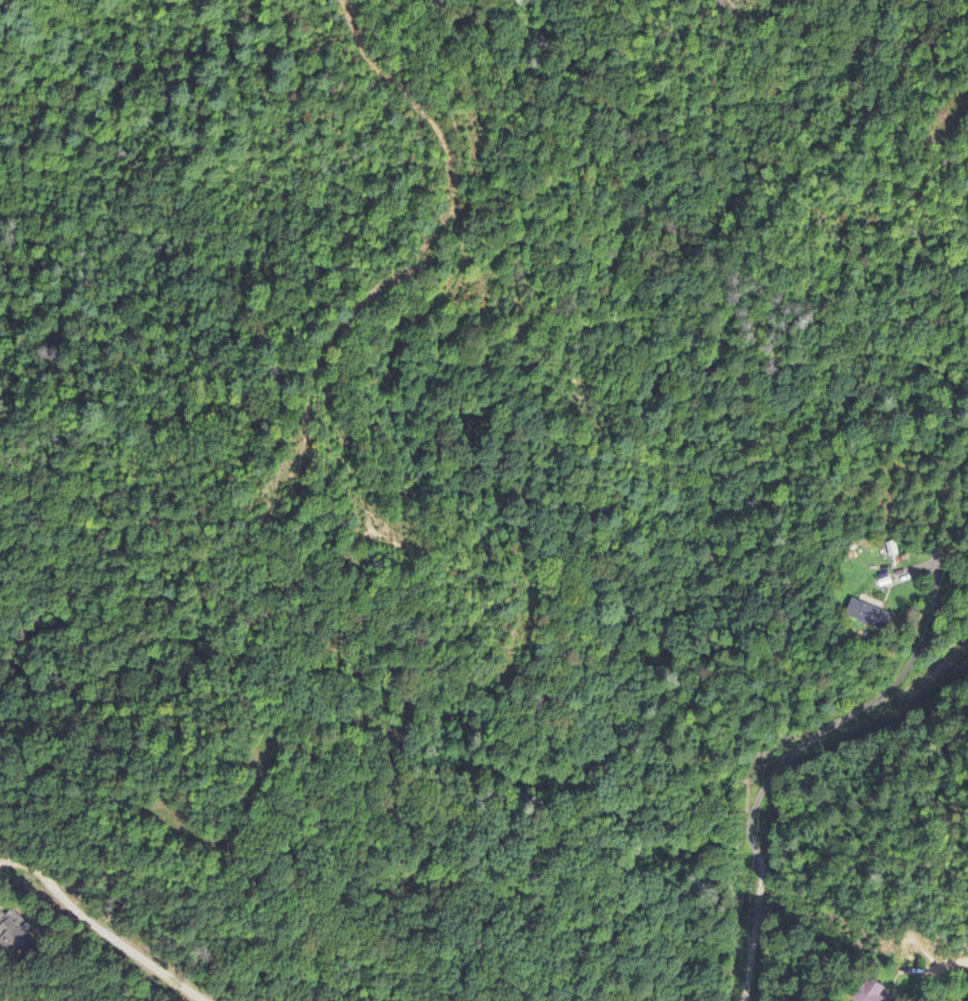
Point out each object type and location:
road: (410, 198)
road: (185, 243)
building: (868, 617)
road: (924, 632)
road: (923, 677)
road: (748, 823)
road: (101, 929)
building: (11, 931)
building: (868, 992)

